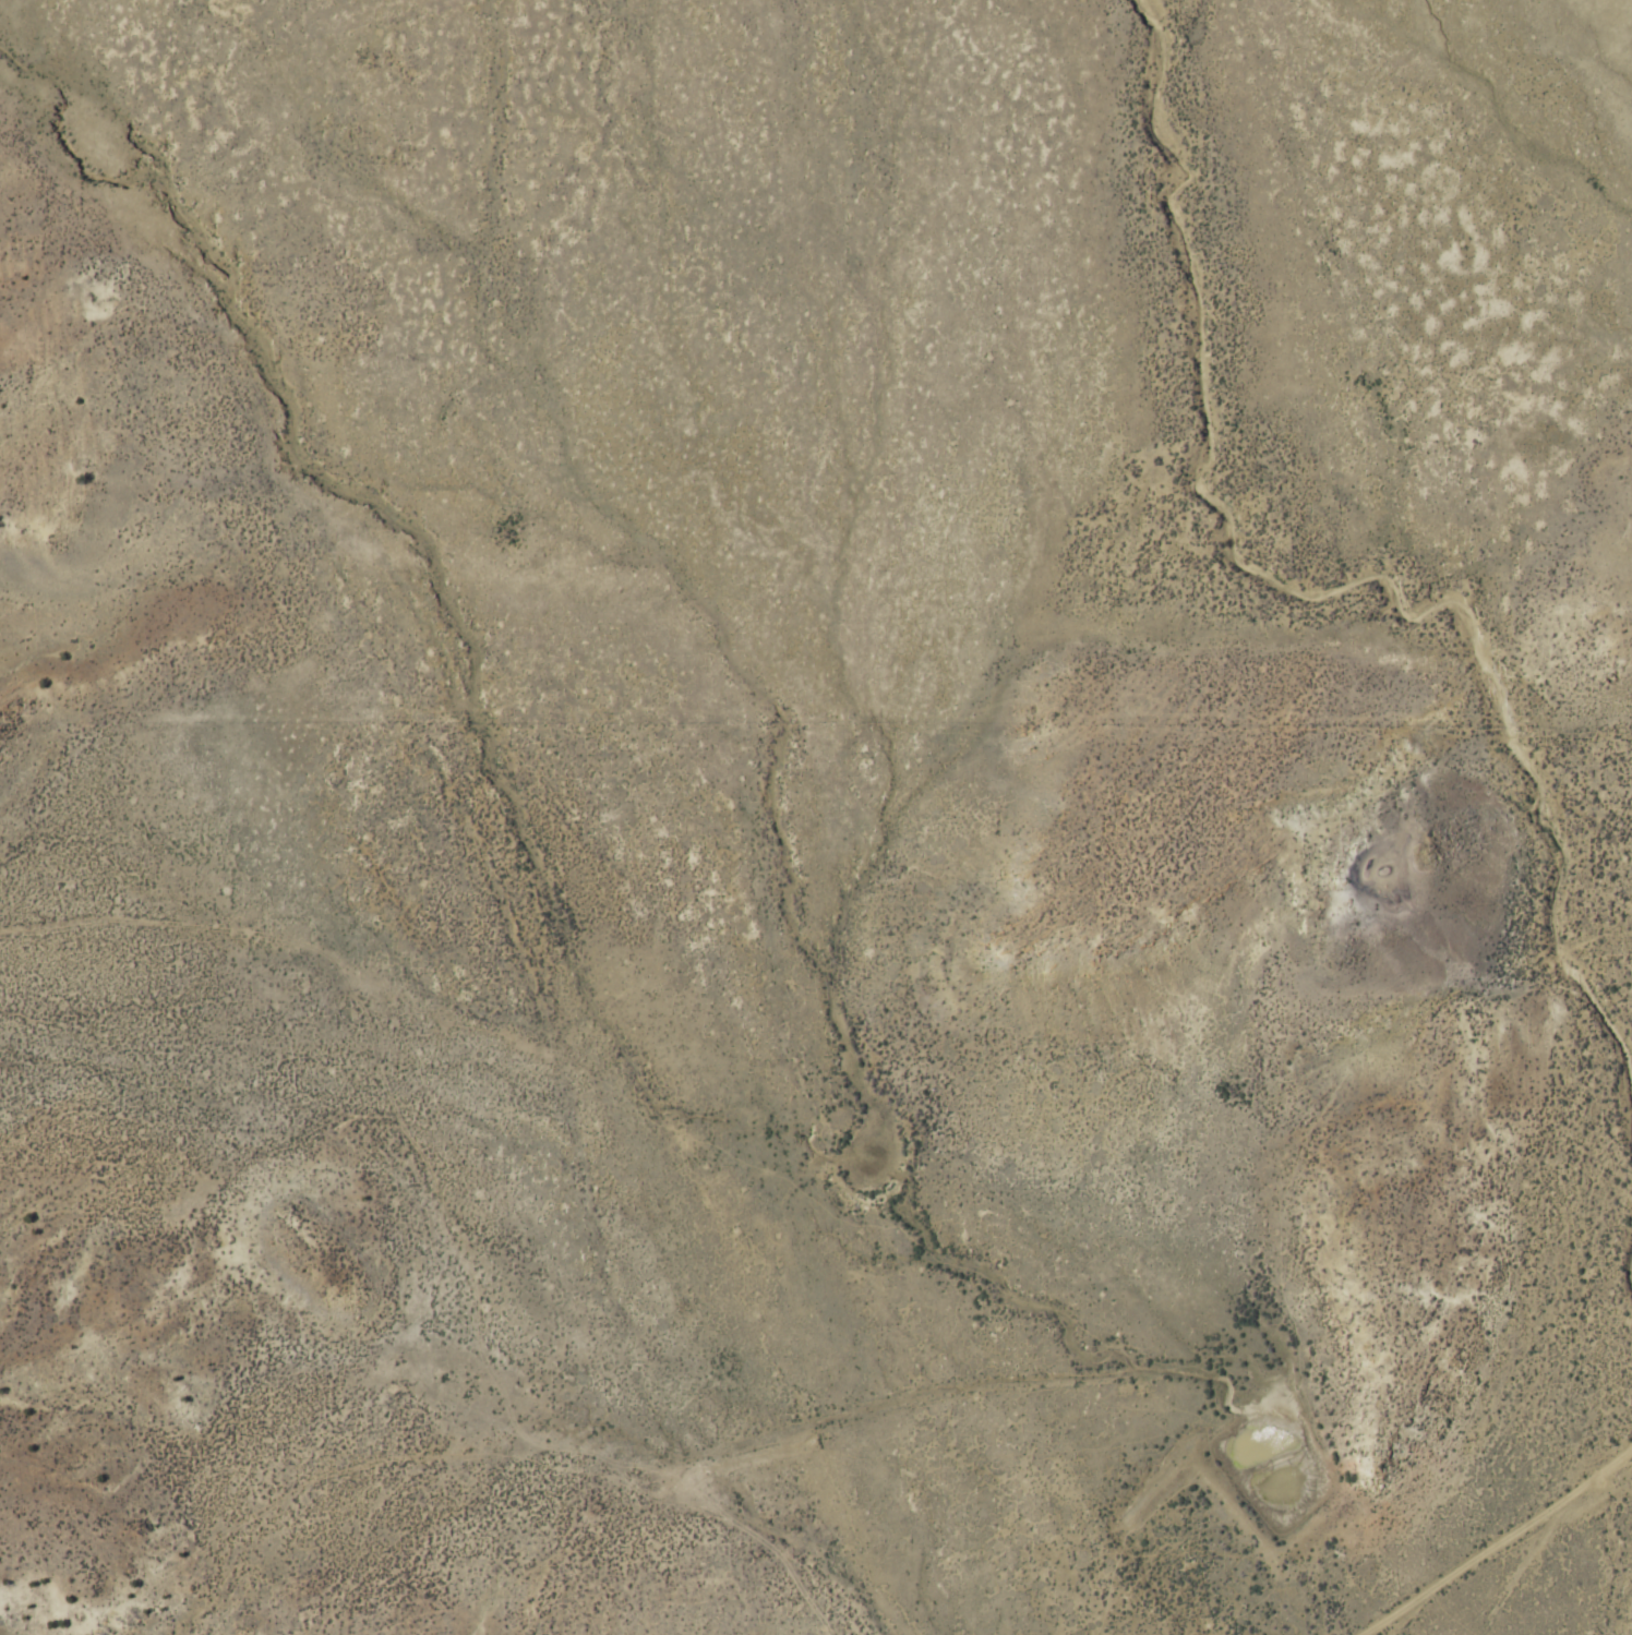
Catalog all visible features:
road: (477, 867)
road: (1498, 1541)

